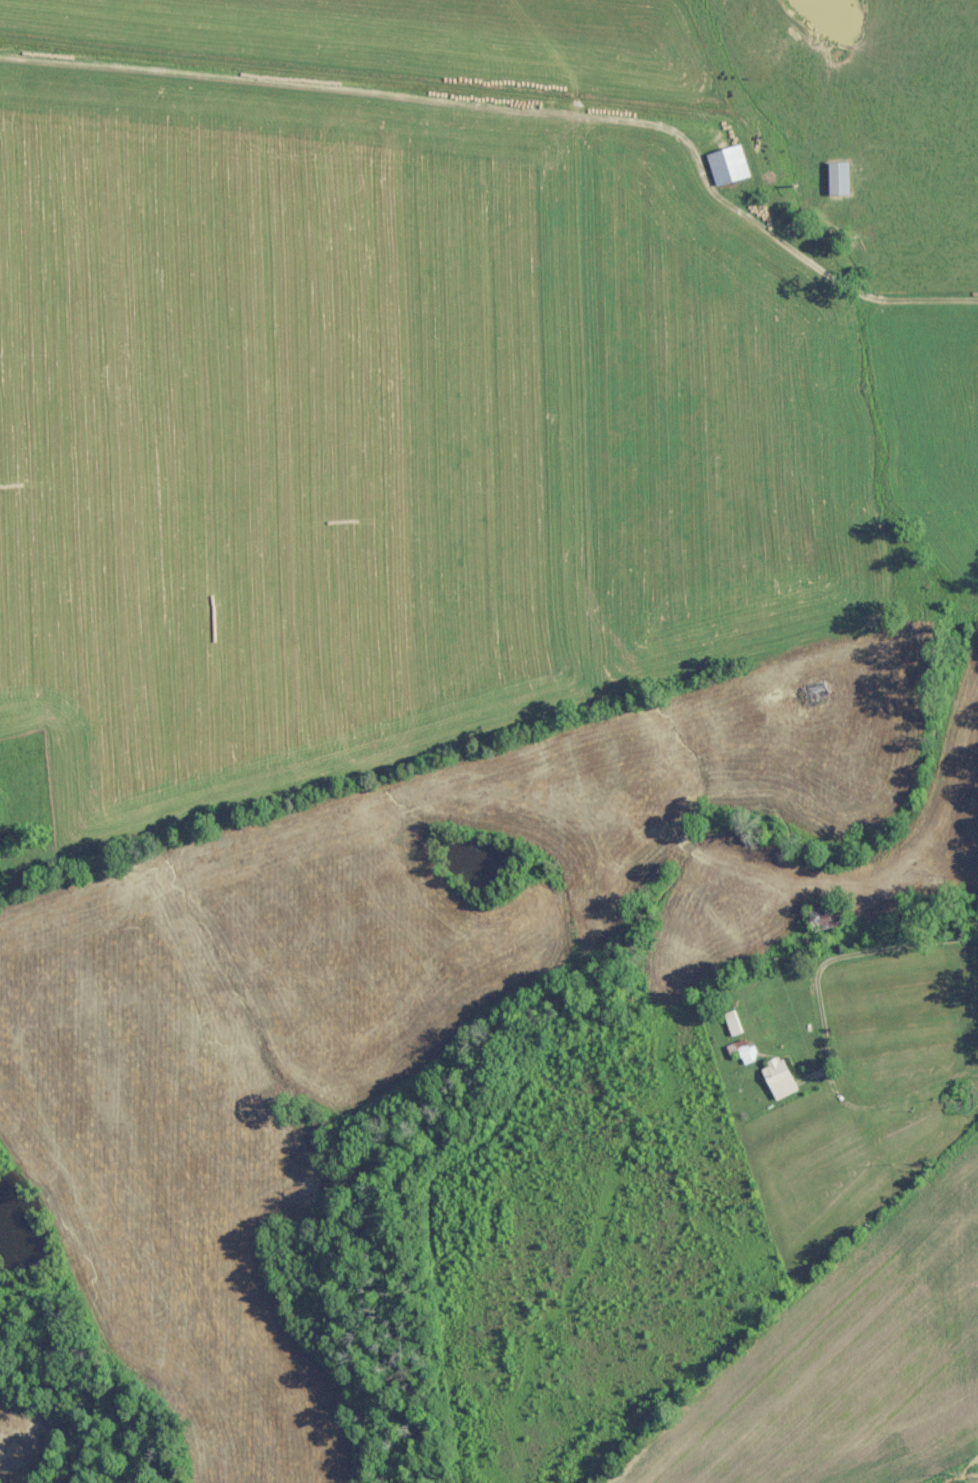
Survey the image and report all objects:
building: (724, 165)
building: (834, 178)
building: (821, 916)
building: (729, 1023)
building: (743, 1052)
building: (775, 1079)

